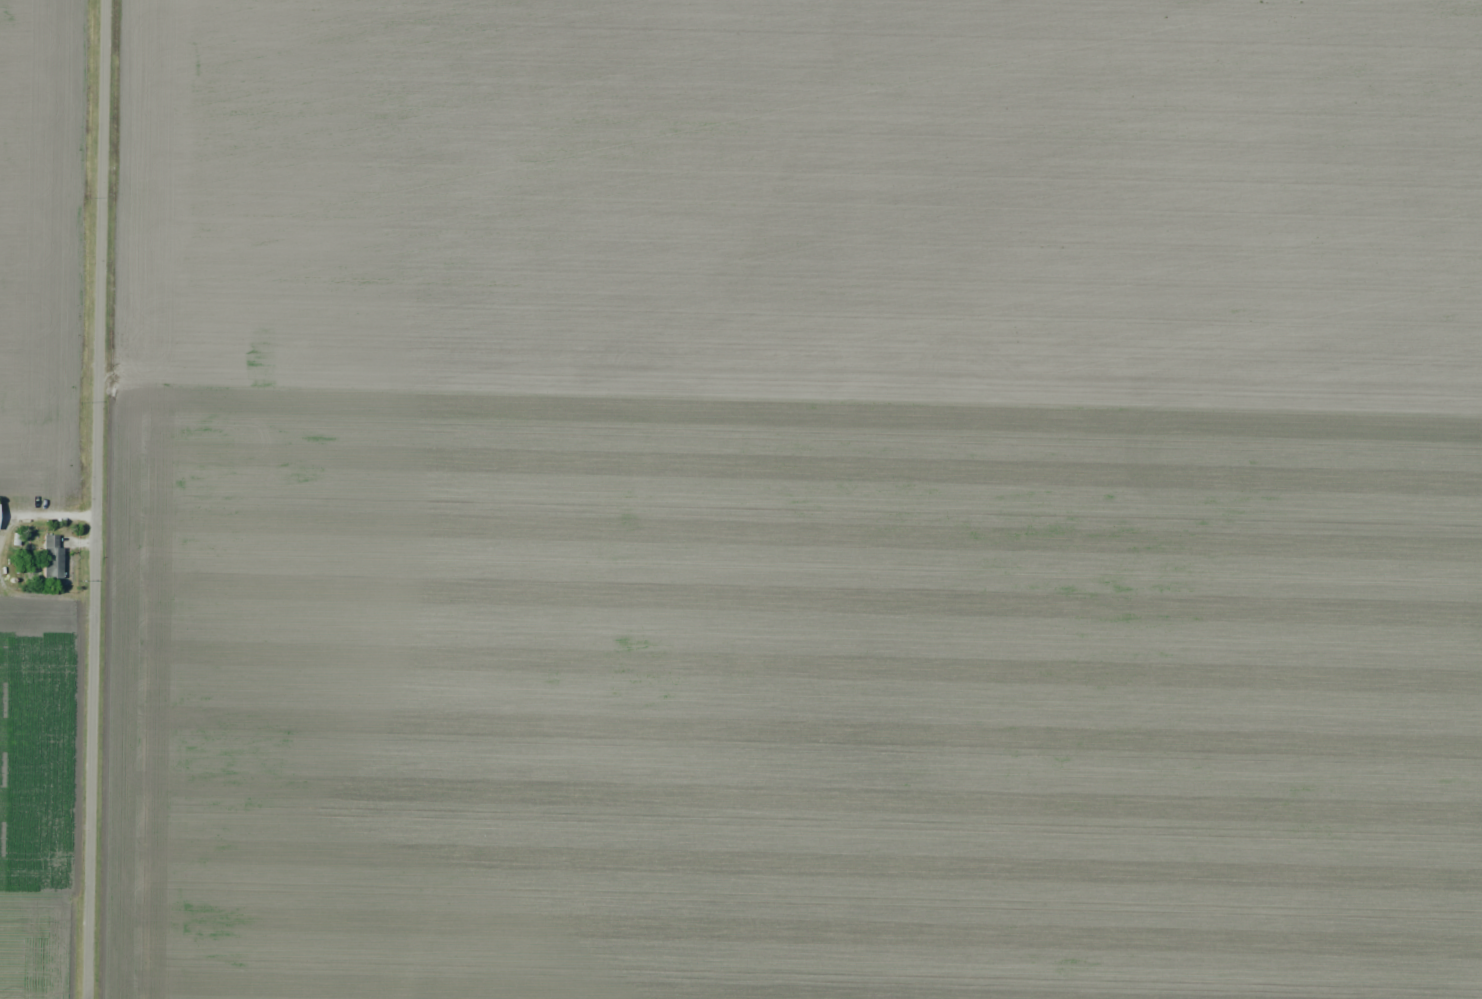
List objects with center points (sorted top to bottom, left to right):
road: (90, 499)
building: (49, 556)

